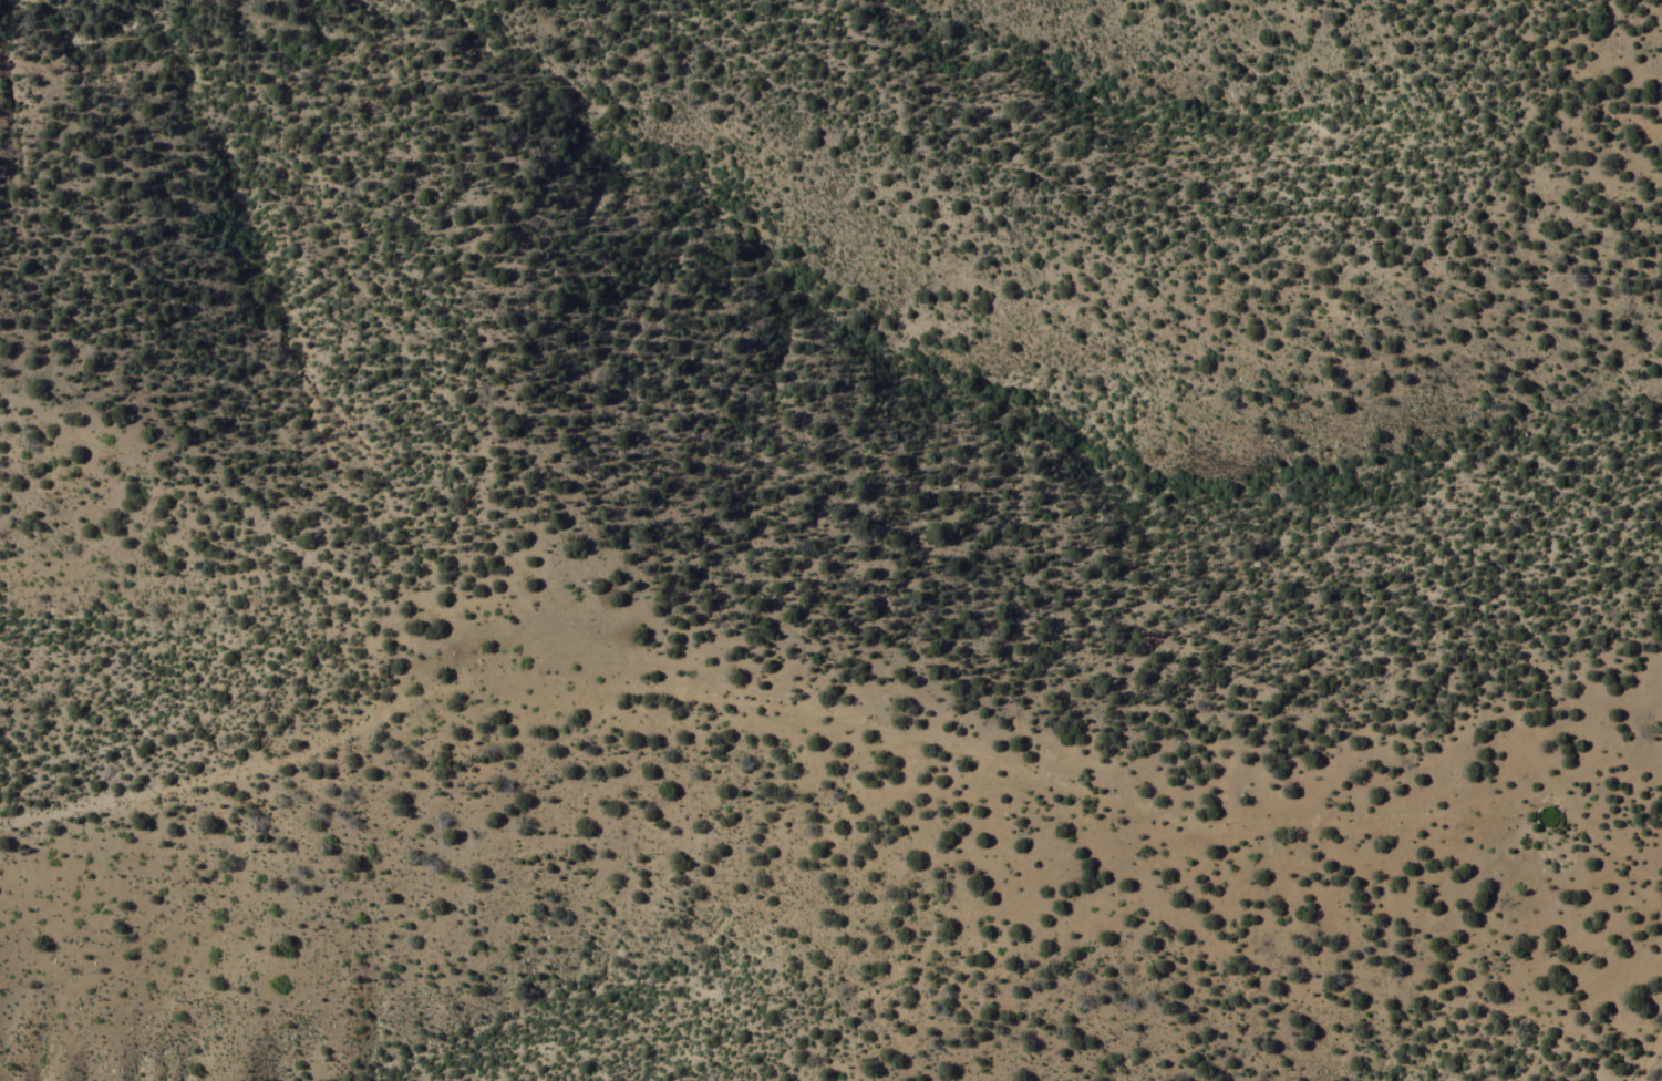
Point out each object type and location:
building: (1545, 815)
storage tank: (1545, 815)
road: (1411, 816)

